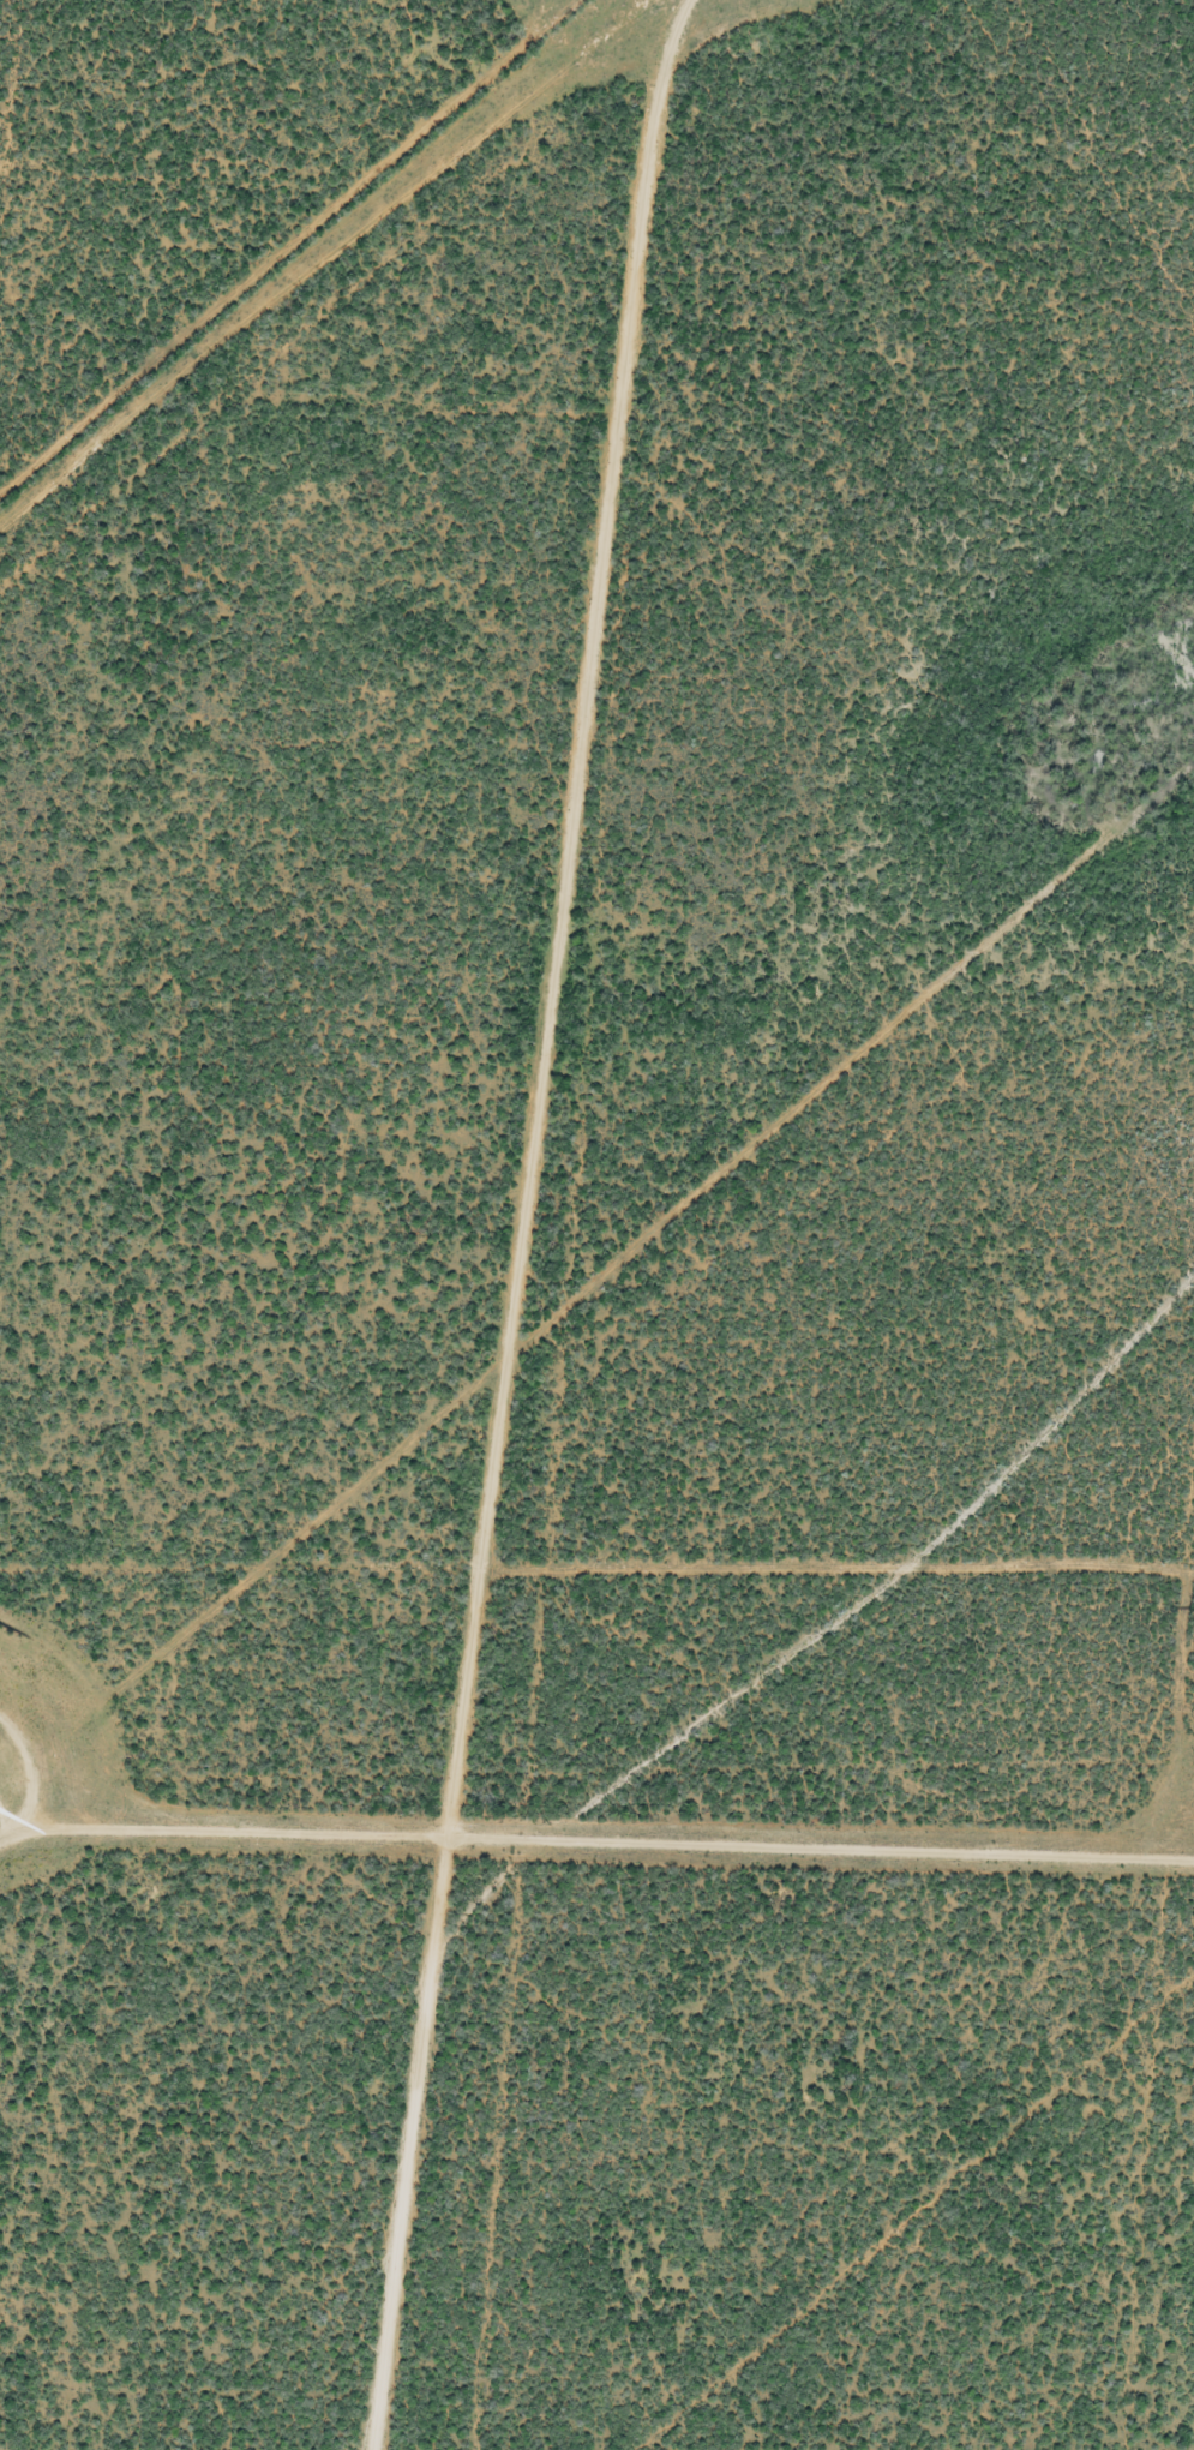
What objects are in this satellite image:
road: (551, 1070)
road: (680, 1855)

